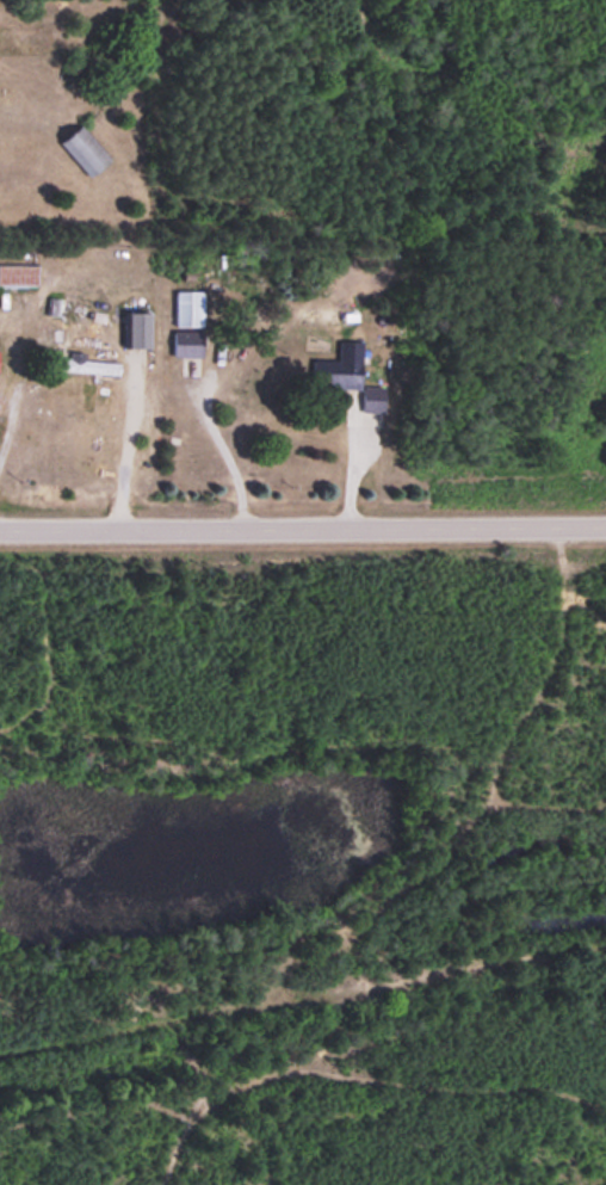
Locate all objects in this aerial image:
building: (79, 148)
building: (17, 273)
building: (58, 304)
building: (185, 304)
building: (184, 341)
building: (85, 364)
building: (346, 376)
road: (303, 526)

